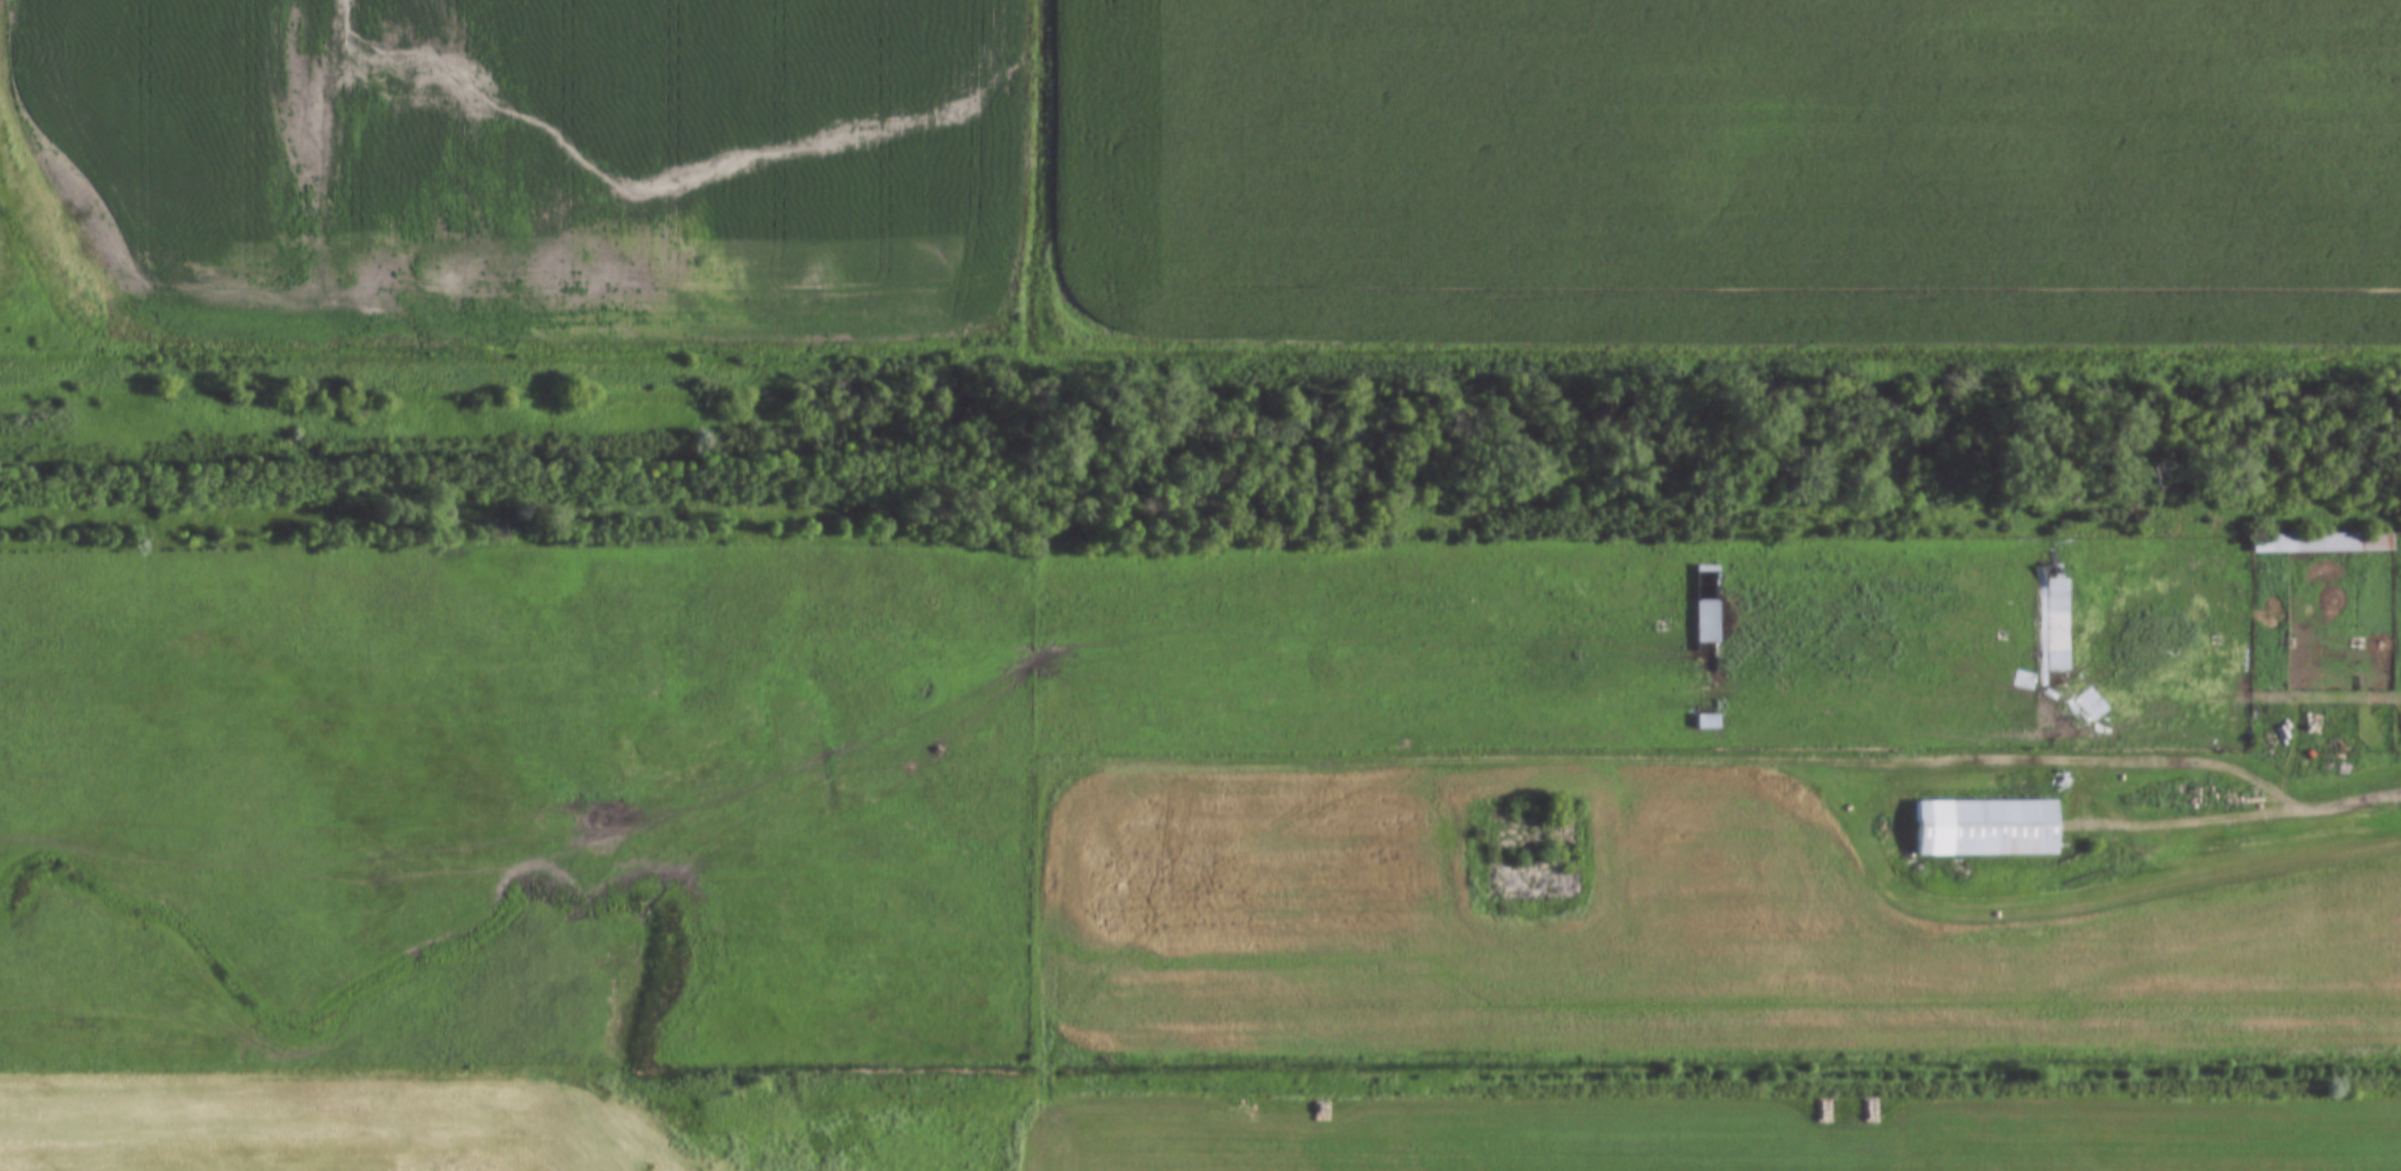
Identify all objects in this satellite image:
building: (2324, 543)
building: (1704, 622)
building: (2043, 647)
building: (1704, 714)
road: (1911, 762)
building: (1984, 828)

